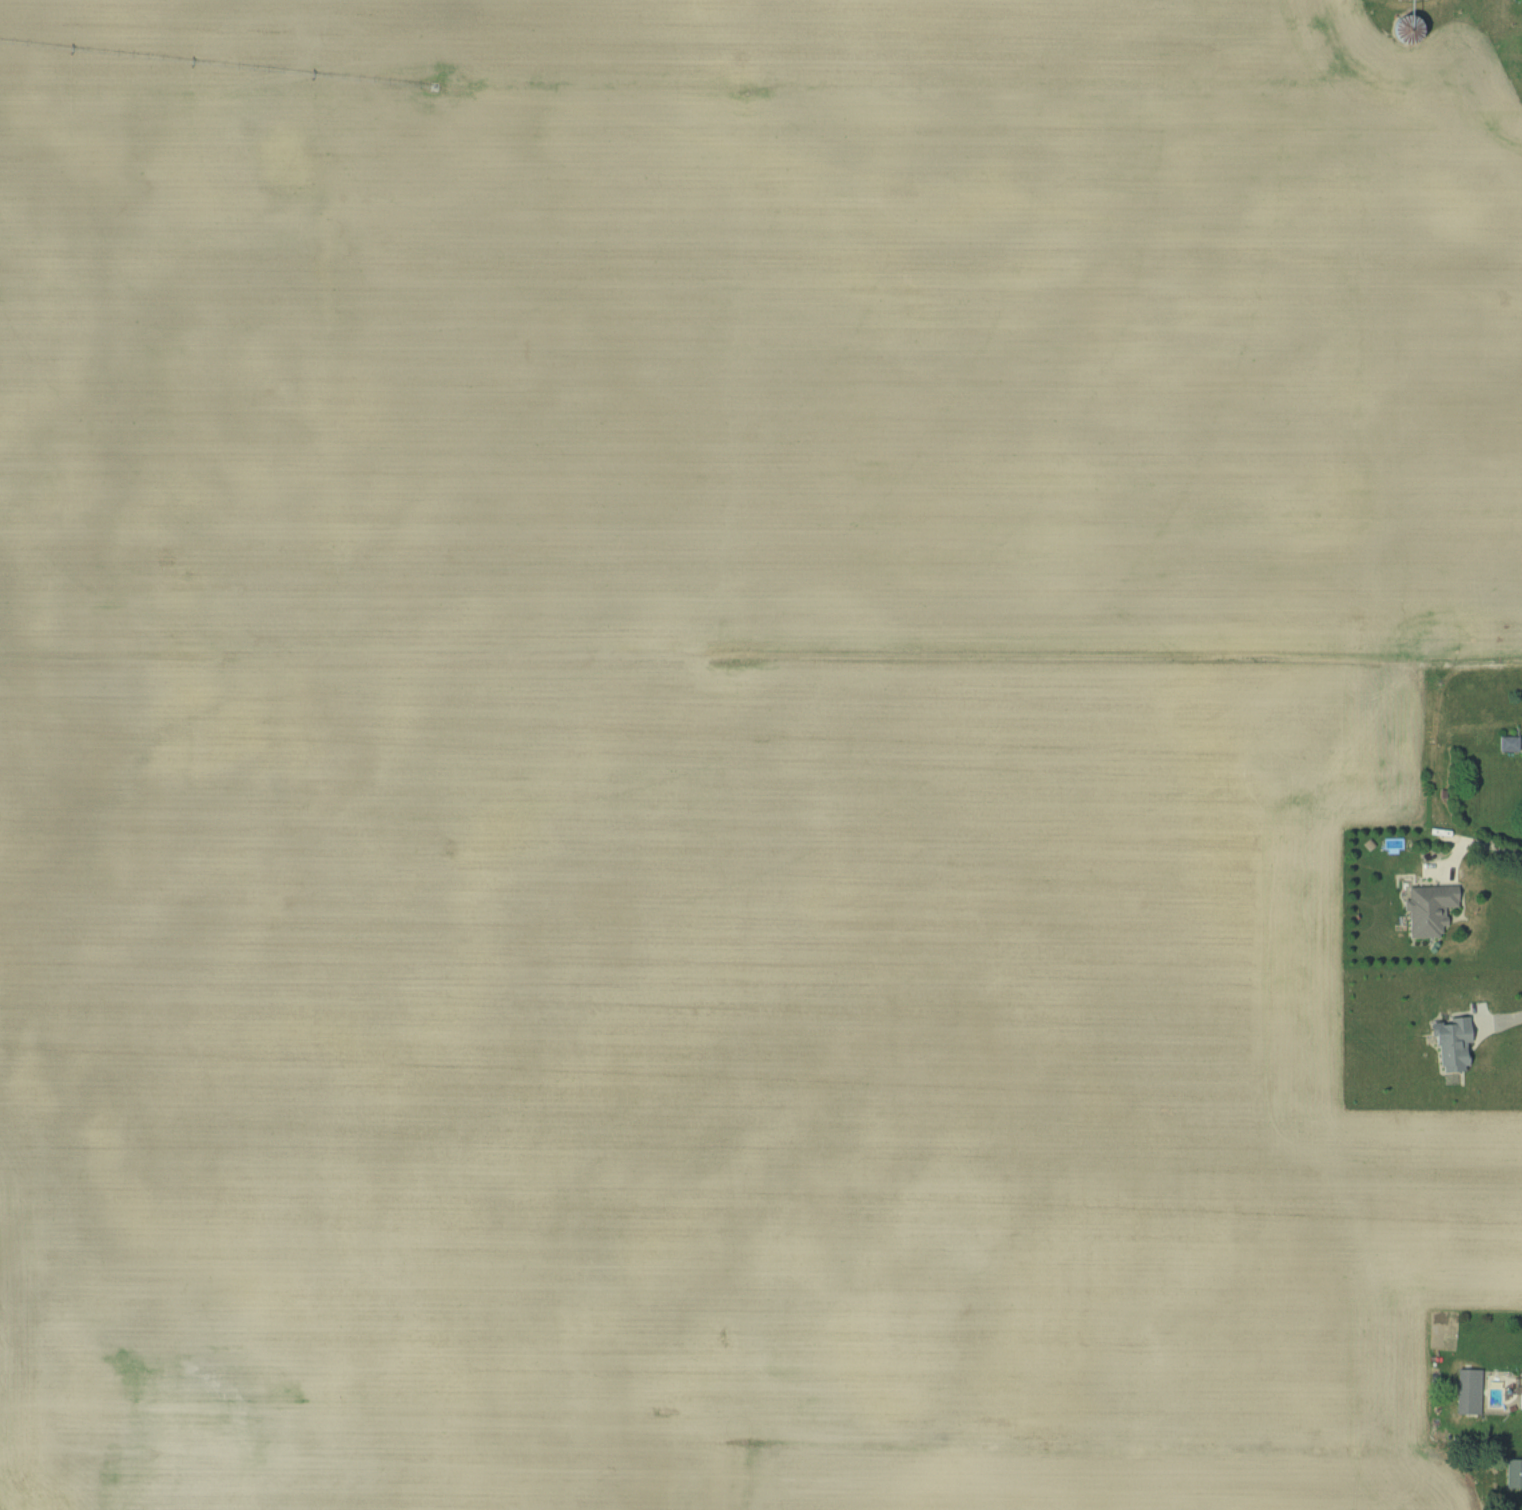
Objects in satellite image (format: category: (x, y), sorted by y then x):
building: (1400, 28)
building: (1506, 743)
road: (1490, 846)
building: (1422, 909)
road: (1506, 1021)
building: (1445, 1044)
building: (1465, 1390)
building: (1517, 1391)
building: (1512, 1472)

